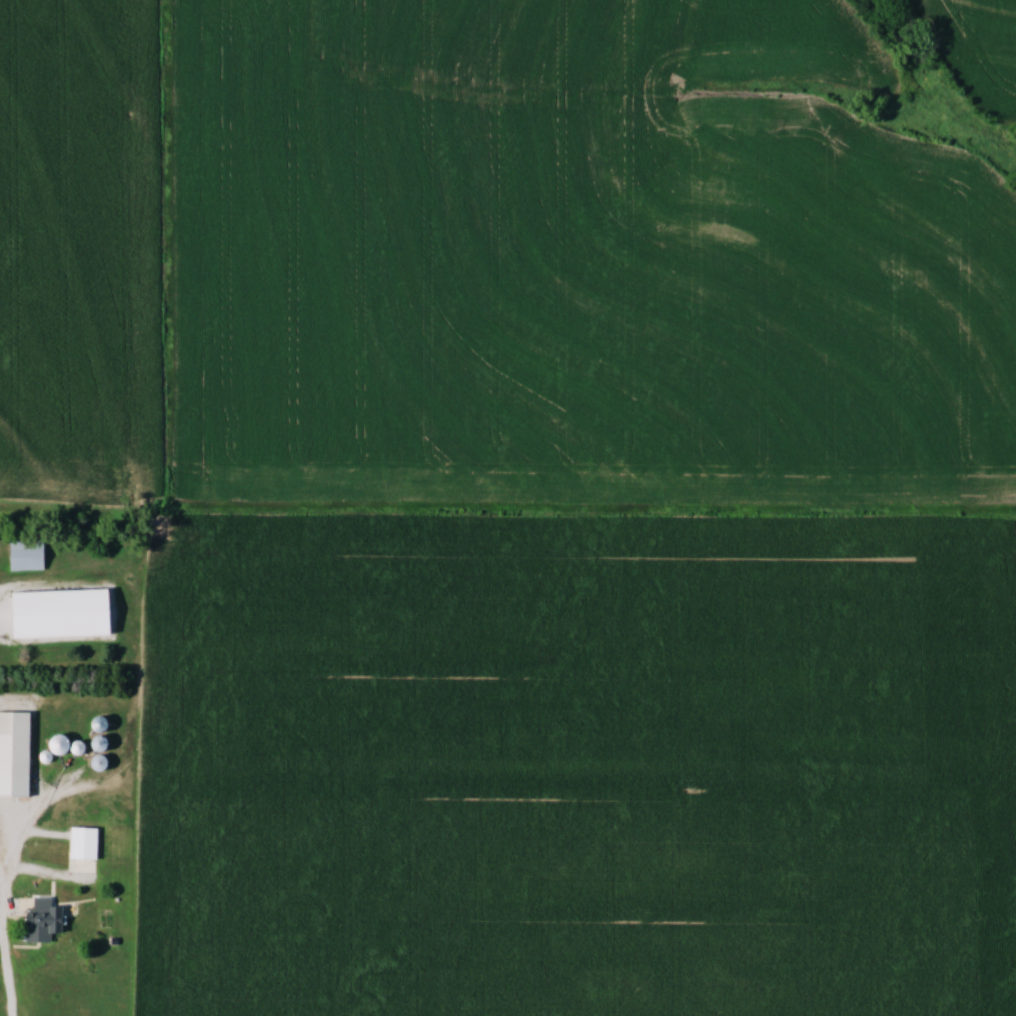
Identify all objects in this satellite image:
building: (29, 553)
building: (17, 754)
building: (1, 828)
road: (5, 917)
building: (47, 920)

